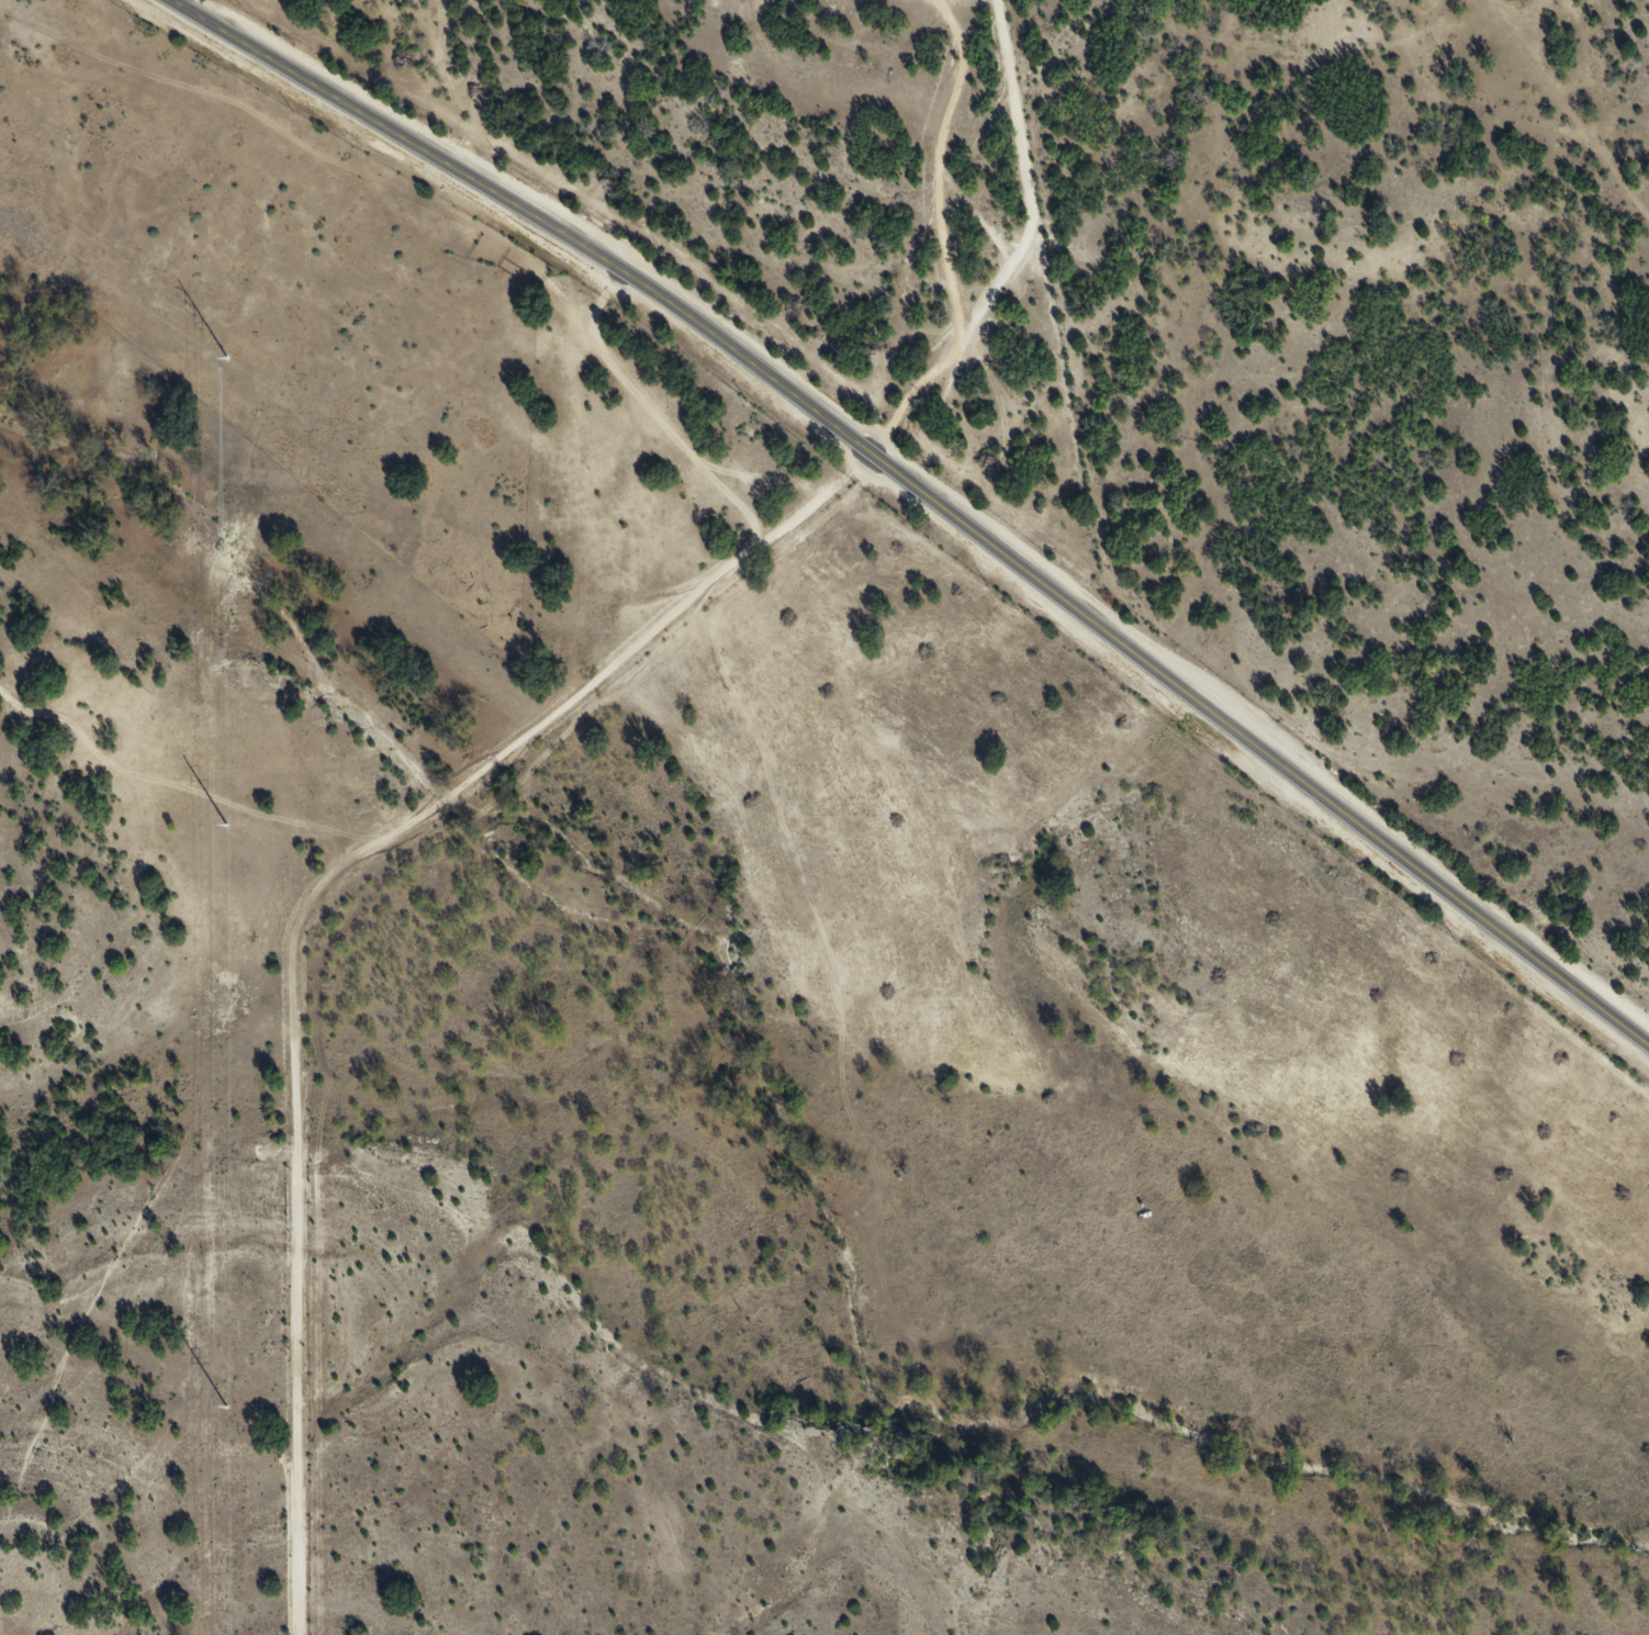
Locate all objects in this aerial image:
road: (1580, 109)
power tower: (226, 356)
road: (926, 495)
road: (531, 764)
power tower: (226, 826)
power tower: (225, 1406)

